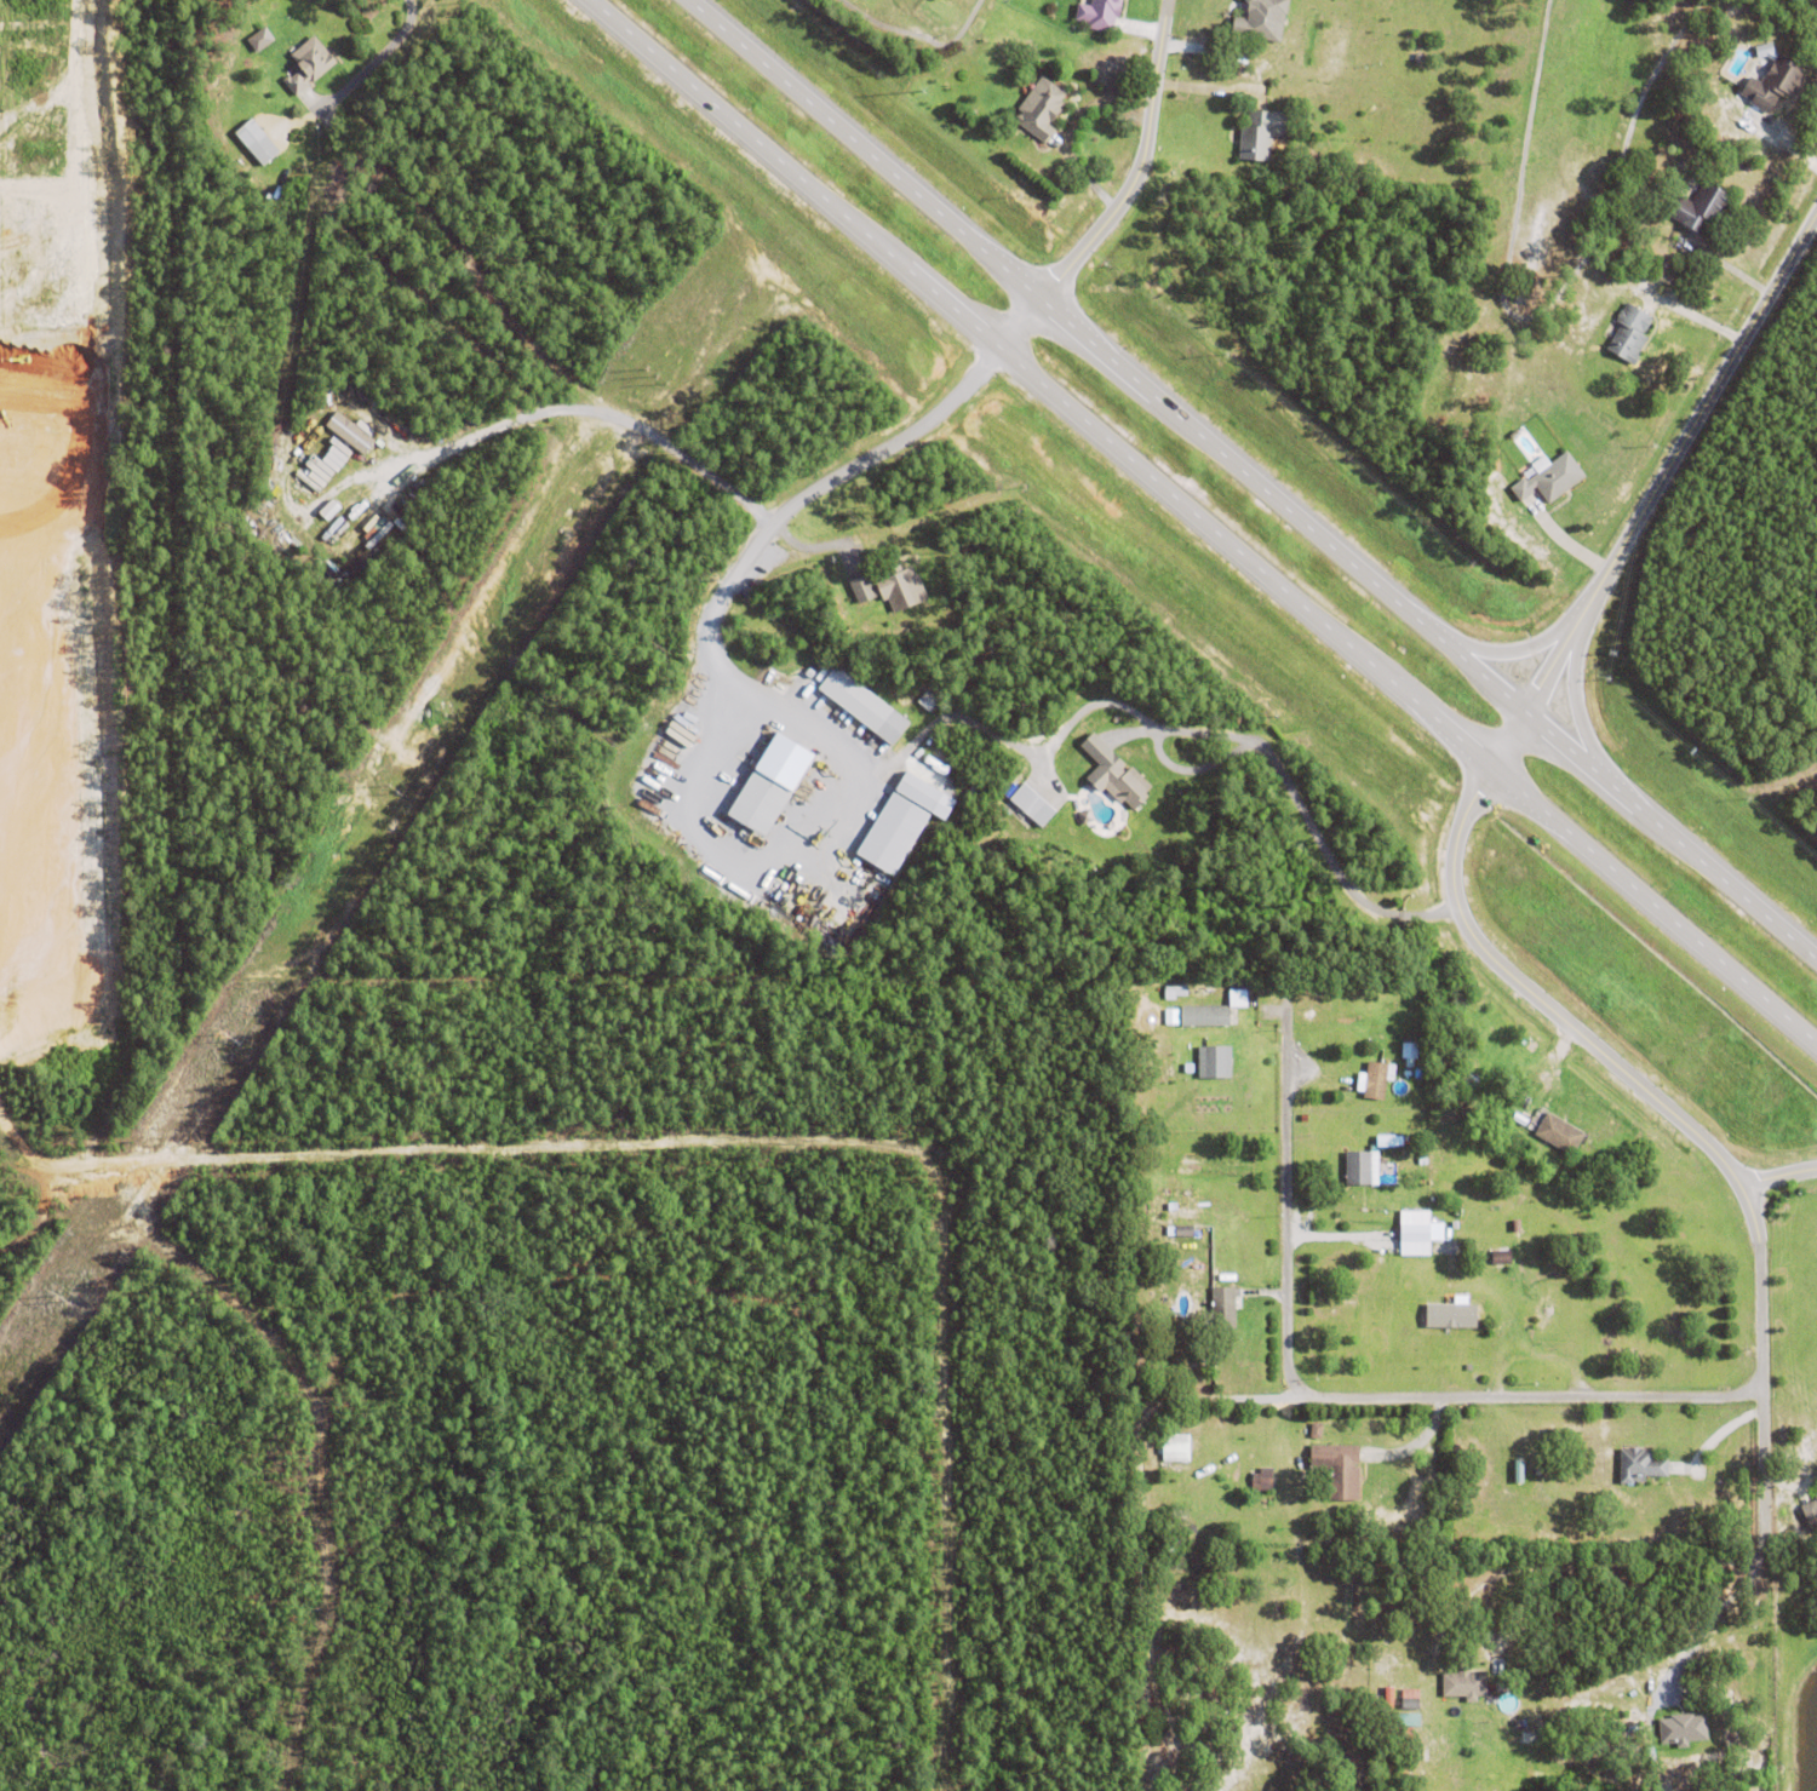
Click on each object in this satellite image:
building: (1100, 16)
building: (1261, 22)
park: (919, 30)
building: (258, 39)
road: (374, 61)
building: (308, 68)
building: (1773, 87)
building: (1041, 111)
building: (1261, 137)
building: (257, 145)
building: (1726, 183)
park: (1551, 188)
road: (1127, 194)
building: (1700, 211)
building: (1629, 335)
road: (589, 411)
building: (349, 431)
building: (1514, 437)
building: (325, 463)
road: (1253, 481)
building: (1549, 482)
road: (824, 484)
road: (1653, 492)
building: (334, 495)
building: (327, 510)
road: (1202, 522)
building: (900, 584)
building: (860, 589)
building: (854, 695)
road: (1099, 704)
building: (1119, 779)
building: (770, 780)
building: (922, 796)
building: (1032, 802)
building: (889, 833)
building: (1176, 989)
building: (1348, 993)
building: (1236, 998)
building: (1205, 1015)
building: (1408, 1050)
building: (1215, 1061)
building: (1467, 1078)
building: (1375, 1079)
building: (1553, 1098)
road: (1681, 1121)
building: (1559, 1132)
building: (1360, 1169)
road: (1777, 1177)
building: (1371, 1202)
building: (1527, 1215)
building: (1185, 1232)
building: (1414, 1233)
building: (1524, 1238)
building: (1501, 1258)
building: (1222, 1307)
building: (1548, 1310)
building: (1449, 1316)
road: (1334, 1399)
building: (1317, 1430)
building: (1174, 1448)
building: (1305, 1457)
building: (1638, 1465)
building: (1340, 1469)
building: (1262, 1480)
building: (1816, 1494)
building: (1810, 1512)
road: (1137, 1519)
building: (1456, 1550)
road: (1581, 1565)
road: (1712, 1620)
building: (1465, 1684)
building: (1385, 1690)
building: (1411, 1690)
building: (1410, 1704)
building: (1519, 1724)
building: (1405, 1732)
building: (1687, 1735)
building: (1650, 1752)

